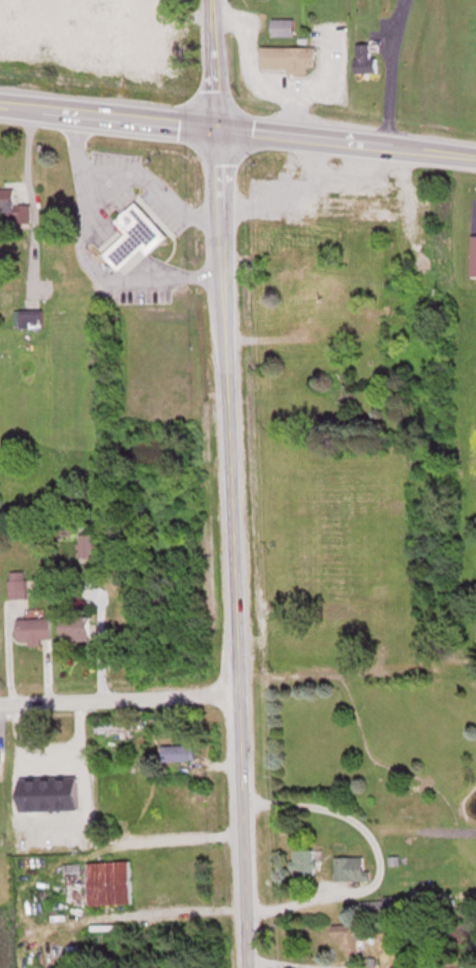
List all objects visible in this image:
building: (282, 27)
building: (288, 58)
building: (365, 58)
road: (386, 70)
traffic signals: (216, 124)
road: (238, 126)
road: (155, 183)
building: (6, 201)
building: (355, 206)
building: (135, 236)
road: (85, 255)
building: (473, 256)
building: (30, 317)
building: (323, 332)
building: (298, 354)
road: (228, 484)
building: (88, 546)
building: (17, 591)
building: (75, 628)
building: (33, 629)
road: (118, 698)
road: (47, 748)
building: (178, 753)
building: (0, 768)
building: (48, 794)
building: (303, 860)
building: (350, 867)
building: (108, 881)
building: (103, 926)
building: (345, 936)

